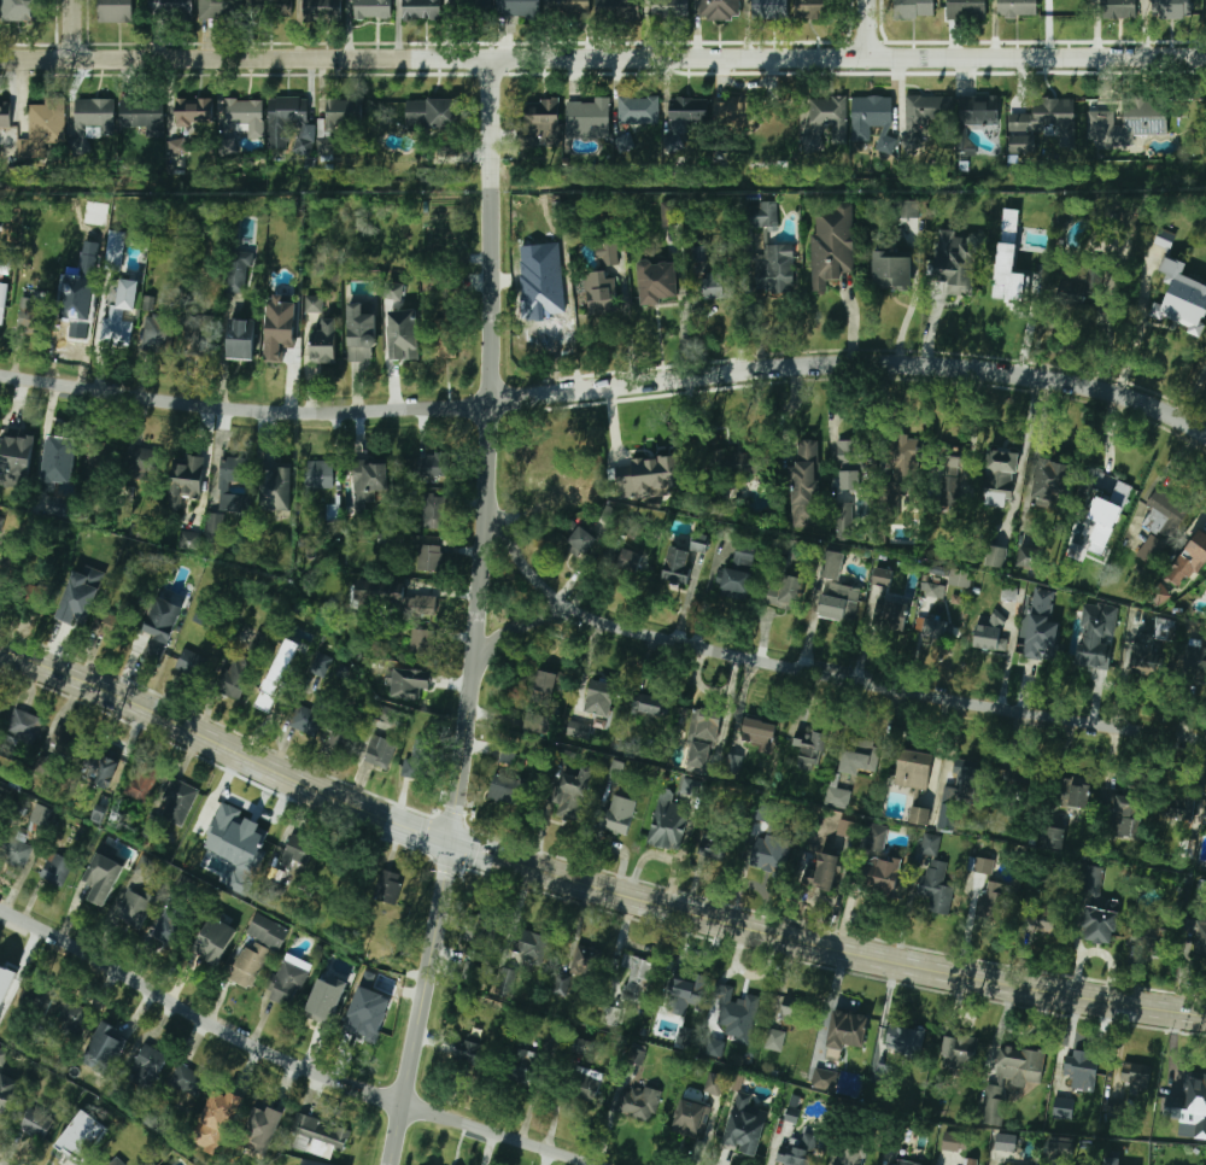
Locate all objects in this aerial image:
building: (476, 2)
building: (1152, 4)
building: (519, 7)
building: (568, 7)
building: (1015, 7)
building: (1181, 7)
building: (259, 8)
building: (620, 8)
building: (671, 8)
building: (718, 8)
building: (818, 8)
building: (913, 8)
building: (1065, 8)
building: (1118, 8)
building: (170, 10)
building: (218, 10)
building: (322, 10)
building: (374, 10)
building: (421, 10)
building: (769, 10)
building: (964, 10)
building: (21, 11)
building: (115, 11)
road: (872, 28)
road: (76, 29)
road: (603, 58)
building: (637, 110)
building: (925, 111)
building: (979, 111)
building: (194, 112)
building: (734, 112)
building: (431, 113)
building: (1054, 113)
building: (6, 115)
building: (587, 115)
building: (687, 115)
building: (95, 116)
building: (142, 116)
building: (244, 116)
building: (829, 118)
building: (1148, 118)
building: (287, 119)
building: (872, 119)
building: (335, 121)
building: (539, 123)
building: (42, 128)
building: (625, 144)
building: (178, 147)
building: (908, 209)
building: (760, 211)
building: (669, 213)
building: (8, 235)
building: (1165, 239)
building: (832, 245)
building: (112, 250)
building: (608, 251)
building: (5, 267)
building: (774, 268)
building: (239, 270)
building: (892, 270)
building: (950, 275)
building: (1015, 279)
building: (657, 282)
building: (719, 285)
building: (1076, 287)
building: (394, 291)
building: (1177, 291)
building: (548, 298)
building: (602, 298)
building: (1, 304)
building: (314, 304)
building: (29, 314)
building: (119, 314)
building: (69, 323)
building: (280, 327)
building: (157, 334)
building: (361, 334)
building: (198, 336)
building: (404, 336)
building: (241, 339)
building: (440, 340)
building: (326, 343)
road: (607, 388)
road: (488, 451)
building: (57, 458)
building: (16, 461)
building: (142, 463)
building: (431, 466)
building: (849, 466)
building: (902, 466)
building: (733, 467)
building: (950, 474)
building: (318, 475)
building: (645, 476)
building: (189, 479)
building: (804, 479)
building: (1000, 479)
building: (368, 482)
building: (1049, 484)
building: (1111, 484)
building: (275, 490)
building: (227, 492)
building: (60, 507)
building: (432, 511)
building: (1163, 514)
building: (1107, 517)
building: (844, 520)
building: (187, 540)
building: (581, 543)
building: (1196, 546)
building: (1151, 549)
building: (745, 555)
building: (995, 556)
building: (1028, 557)
building: (428, 558)
building: (630, 562)
building: (683, 562)
building: (2, 570)
building: (883, 578)
building: (959, 578)
building: (736, 582)
building: (835, 589)
building: (932, 590)
building: (381, 593)
building: (783, 593)
building: (30, 598)
building: (425, 609)
building: (72, 613)
building: (1030, 613)
building: (890, 616)
building: (162, 624)
building: (1042, 626)
building: (931, 628)
building: (113, 630)
road: (513, 633)
building: (987, 633)
building: (421, 644)
building: (258, 646)
building: (1099, 656)
building: (1149, 656)
building: (1194, 663)
building: (192, 665)
building: (322, 665)
road: (810, 672)
building: (277, 674)
building: (234, 678)
building: (411, 684)
building: (544, 690)
building: (601, 698)
building: (0, 703)
building: (0, 704)
building: (654, 706)
building: (386, 714)
building: (306, 719)
building: (23, 725)
building: (708, 727)
building: (755, 731)
building: (346, 736)
building: (64, 745)
building: (376, 749)
building: (810, 750)
building: (857, 756)
building: (103, 762)
building: (733, 762)
building: (417, 766)
building: (616, 769)
building: (914, 771)
building: (508, 778)
building: (141, 780)
building: (971, 783)
building: (1070, 795)
building: (569, 797)
building: (836, 797)
building: (175, 798)
building: (1, 800)
building: (1179, 808)
building: (1118, 810)
building: (218, 814)
building: (615, 814)
building: (920, 815)
building: (41, 816)
building: (665, 822)
building: (845, 827)
building: (254, 835)
building: (874, 836)
building: (1053, 837)
traffic signals: (445, 841)
building: (930, 844)
building: (713, 847)
building: (13, 851)
building: (298, 853)
building: (771, 853)
building: (982, 865)
building: (146, 866)
building: (55, 868)
building: (330, 871)
building: (827, 873)
building: (104, 876)
building: (888, 877)
building: (1093, 879)
road: (586, 882)
building: (936, 885)
building: (388, 886)
building: (134, 907)
building: (993, 909)
building: (1041, 917)
building: (172, 924)
building: (1100, 926)
building: (480, 927)
building: (1199, 935)
building: (1149, 937)
building: (216, 941)
building: (531, 946)
building: (258, 948)
building: (586, 961)
building: (644, 976)
building: (505, 979)
building: (6, 980)
building: (286, 982)
building: (560, 983)
building: (686, 991)
road: (416, 1002)
building: (323, 1009)
building: (797, 1009)
building: (58, 1011)
building: (715, 1012)
building: (733, 1013)
building: (368, 1014)
building: (847, 1031)
building: (775, 1040)
building: (906, 1040)
building: (581, 1048)
building: (105, 1049)
building: (467, 1052)
building: (960, 1052)
building: (637, 1055)
building: (2, 1056)
road: (286, 1060)
building: (519, 1065)
building: (146, 1066)
building: (884, 1071)
building: (1081, 1071)
building: (1135, 1075)
building: (824, 1078)
building: (186, 1081)
building: (1009, 1081)
building: (716, 1083)
building: (582, 1085)
building: (7, 1093)
building: (637, 1103)
building: (1189, 1107)
building: (219, 1108)
building: (1062, 1108)
building: (791, 1114)
building: (692, 1118)
building: (37, 1123)
building: (745, 1125)
building: (260, 1129)
building: (316, 1134)
building: (955, 1141)
building: (1007, 1142)
building: (74, 1146)
building: (1059, 1147)
building: (798, 1151)
building: (854, 1153)
building: (111, 1161)
building: (970, 1161)
building: (1112, 1161)
building: (309, 1163)
building: (903, 1163)

